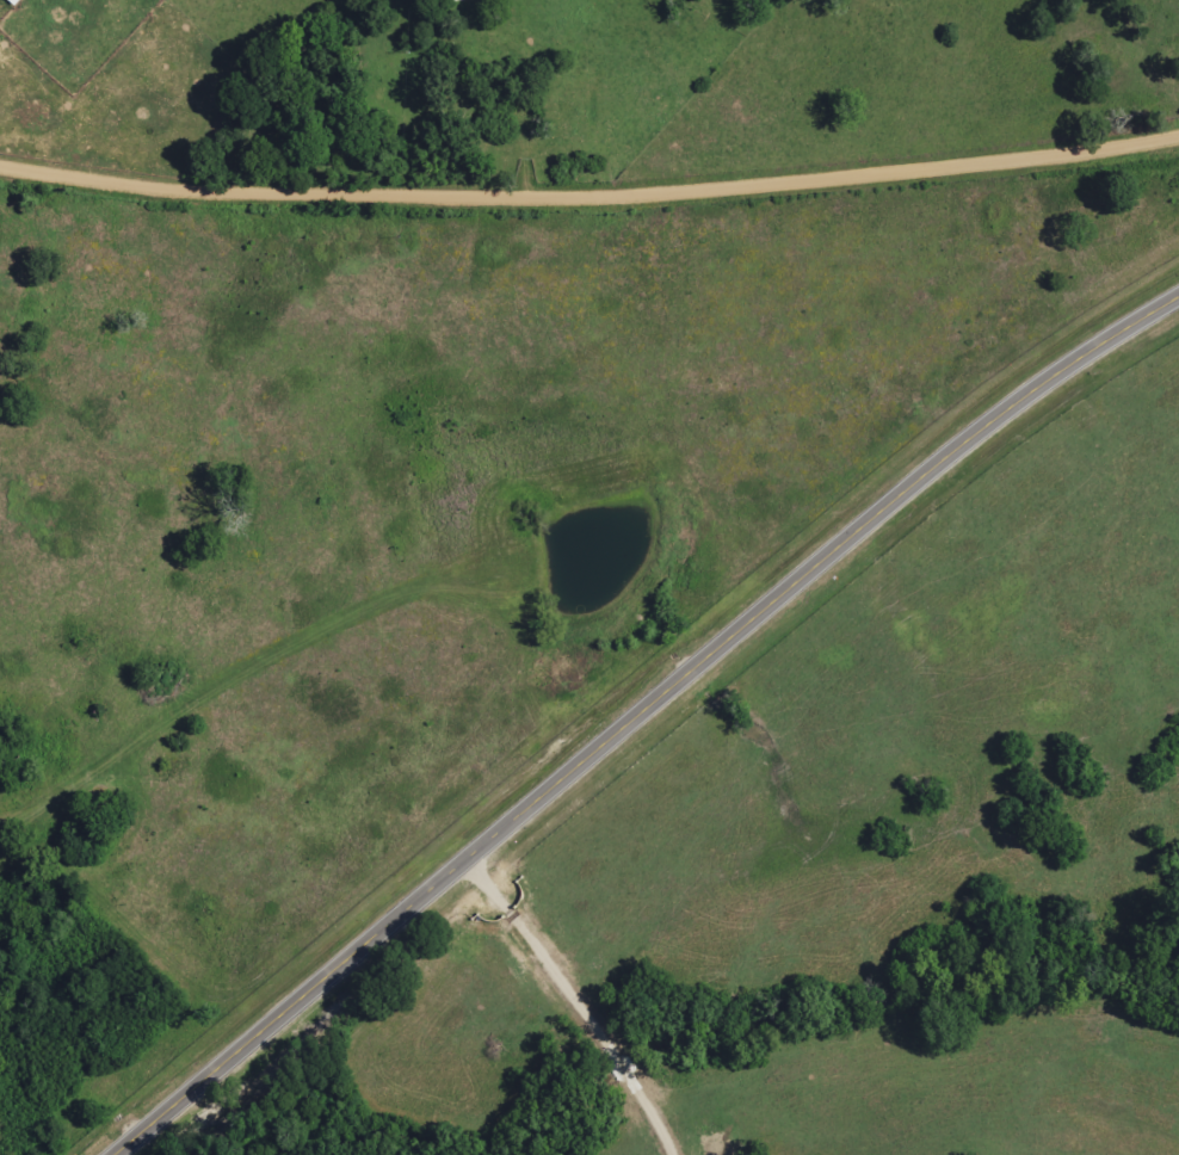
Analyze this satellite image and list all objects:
road: (589, 198)
road: (641, 716)

